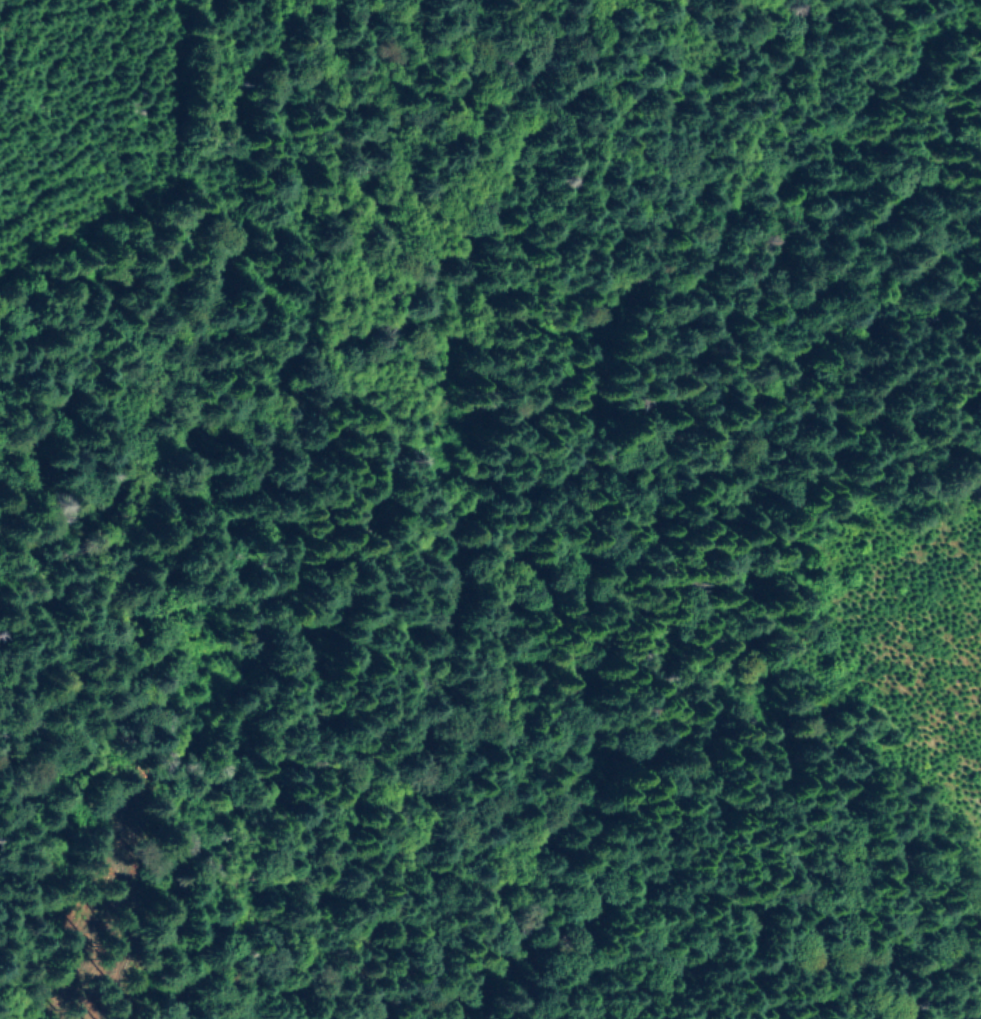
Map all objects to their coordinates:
road: (777, 131)
road: (319, 715)
road: (895, 746)
road: (0, 1018)

